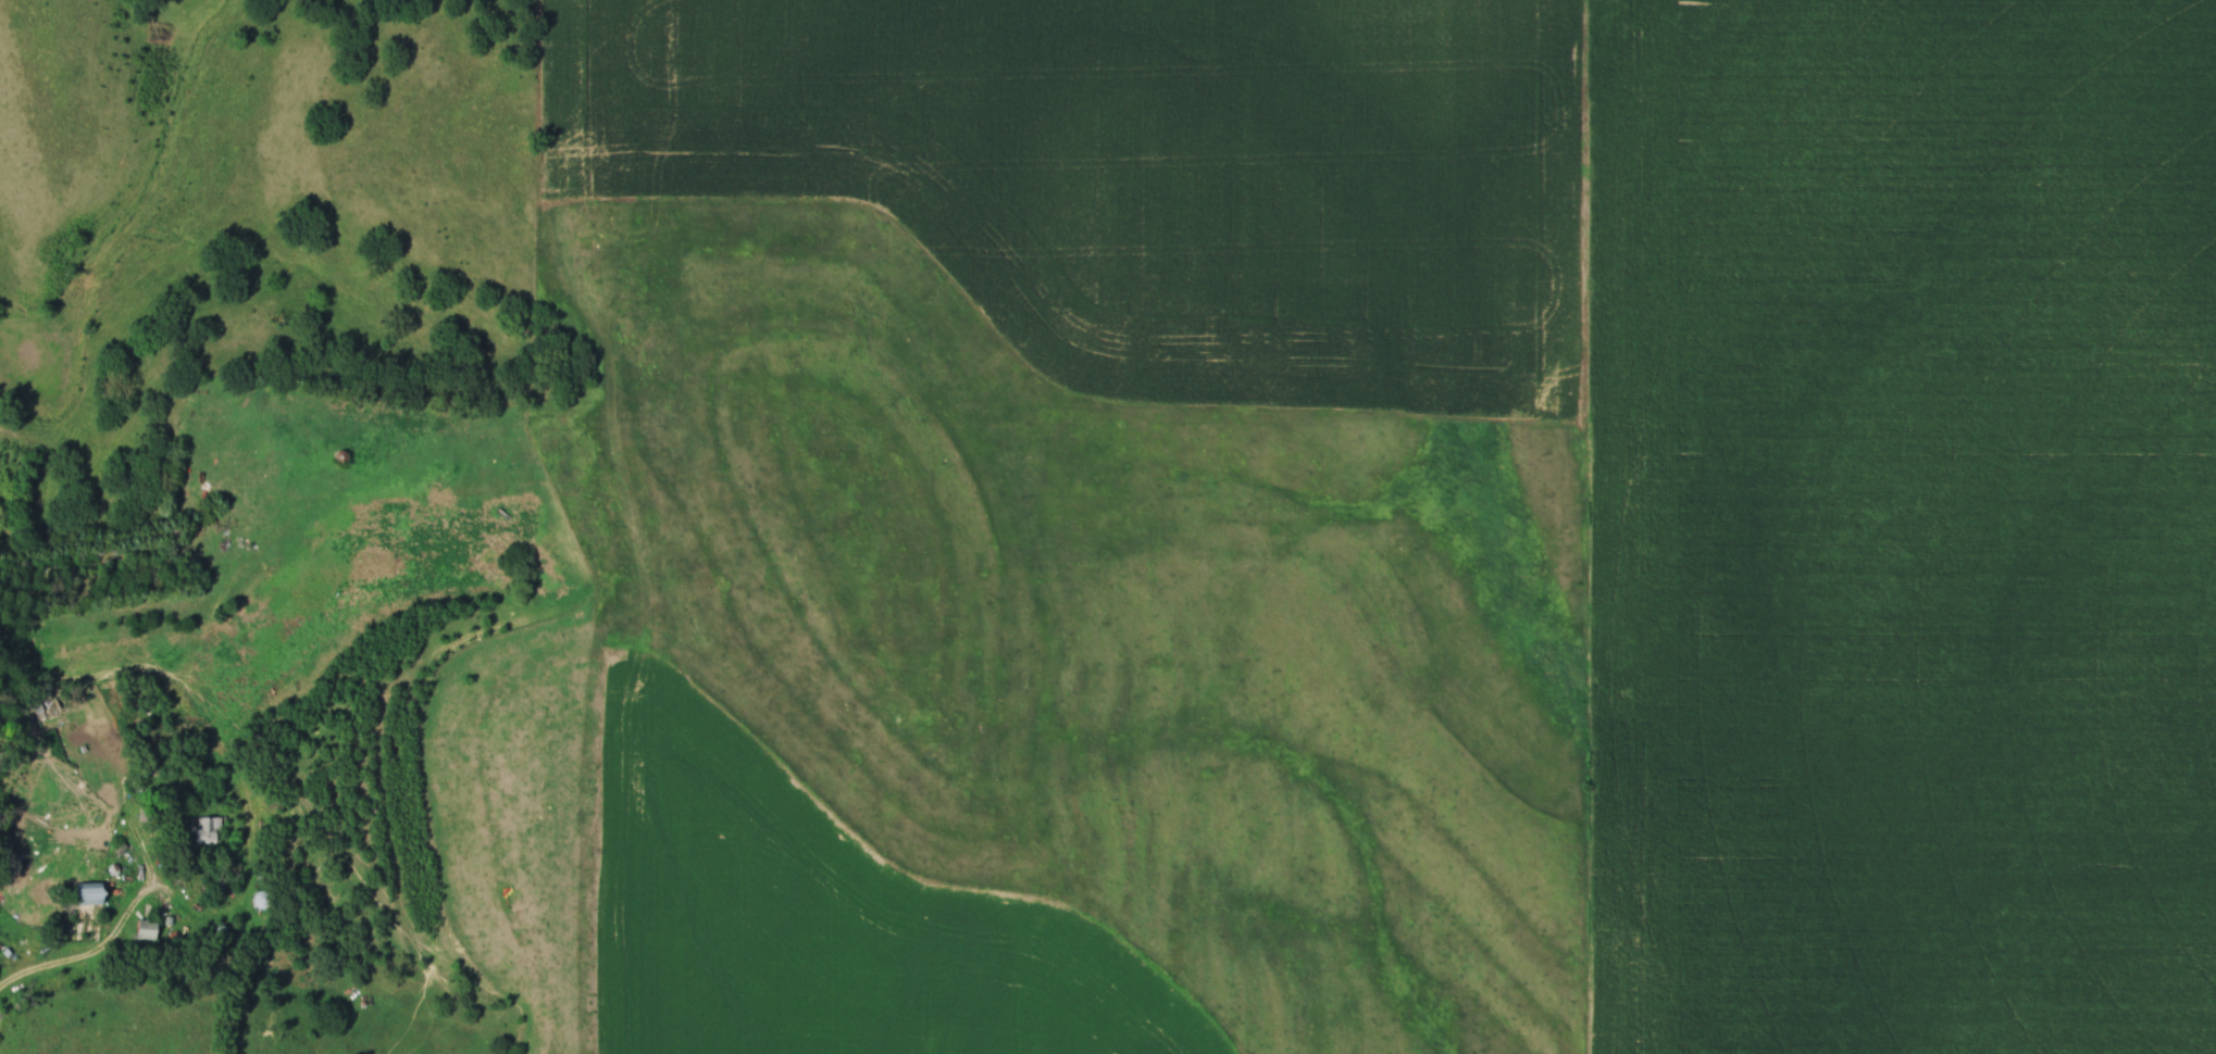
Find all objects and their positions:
building: (48, 706)
building: (210, 828)
building: (92, 891)
building: (149, 928)
road: (90, 961)

